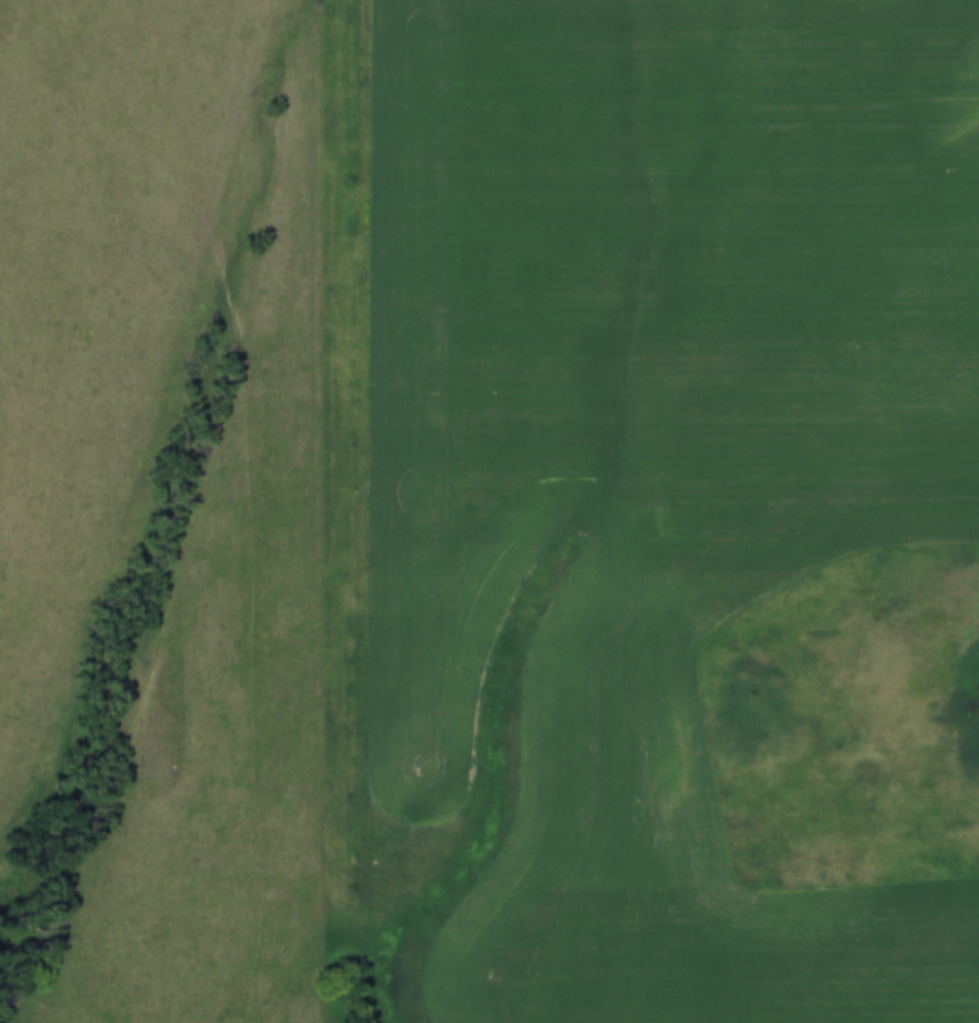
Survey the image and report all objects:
building: (780, 251)

